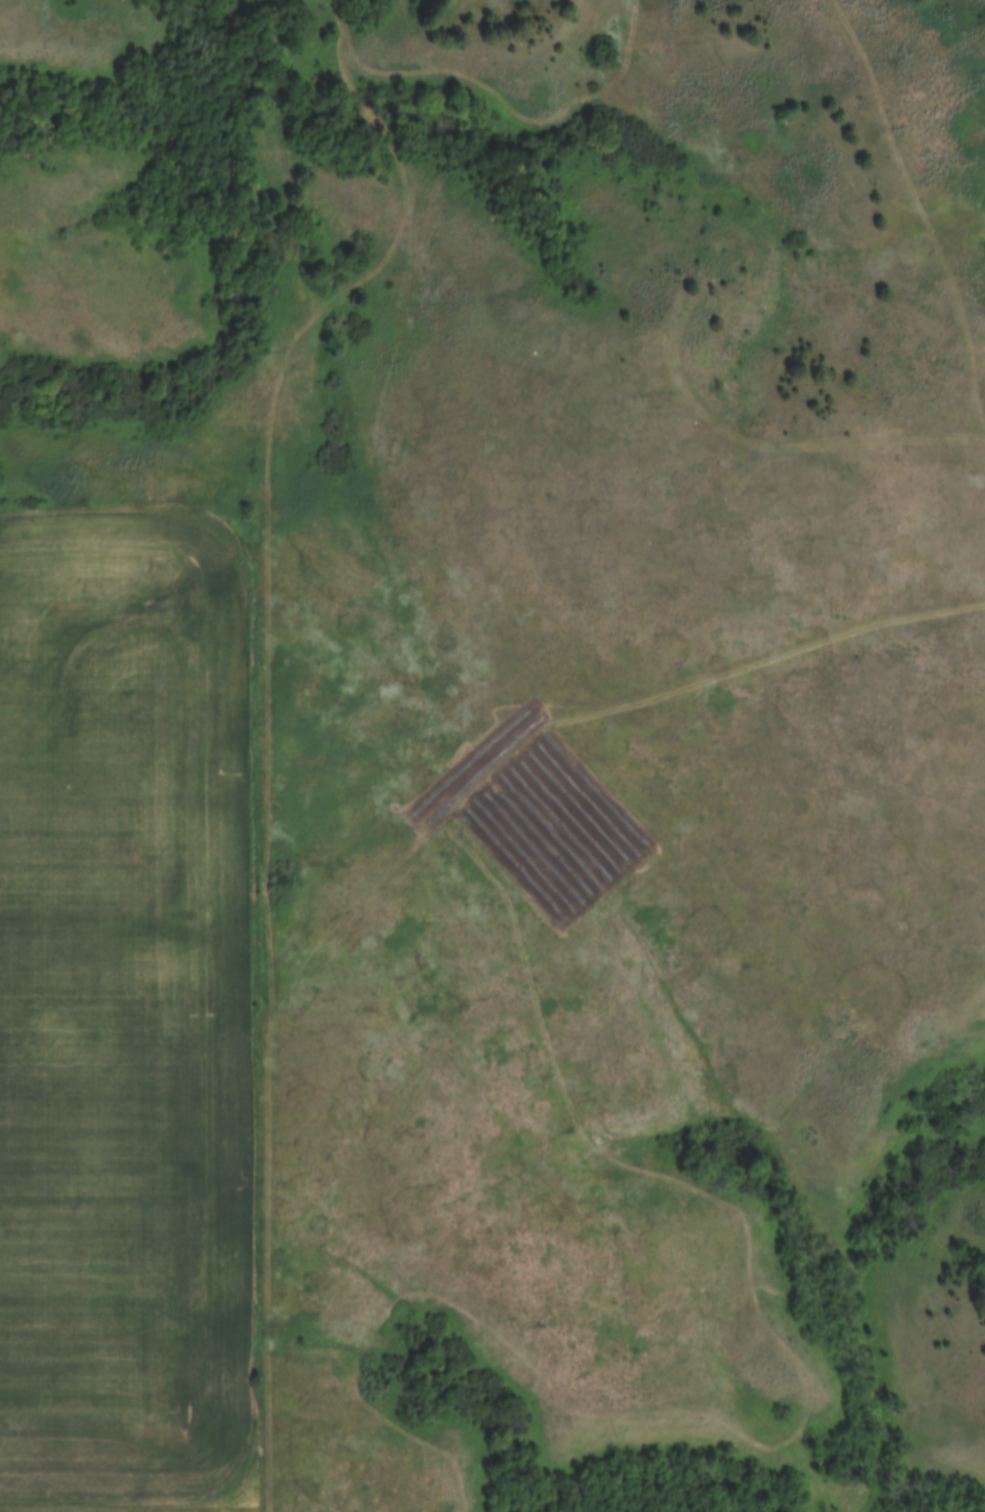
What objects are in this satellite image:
road: (827, 637)

